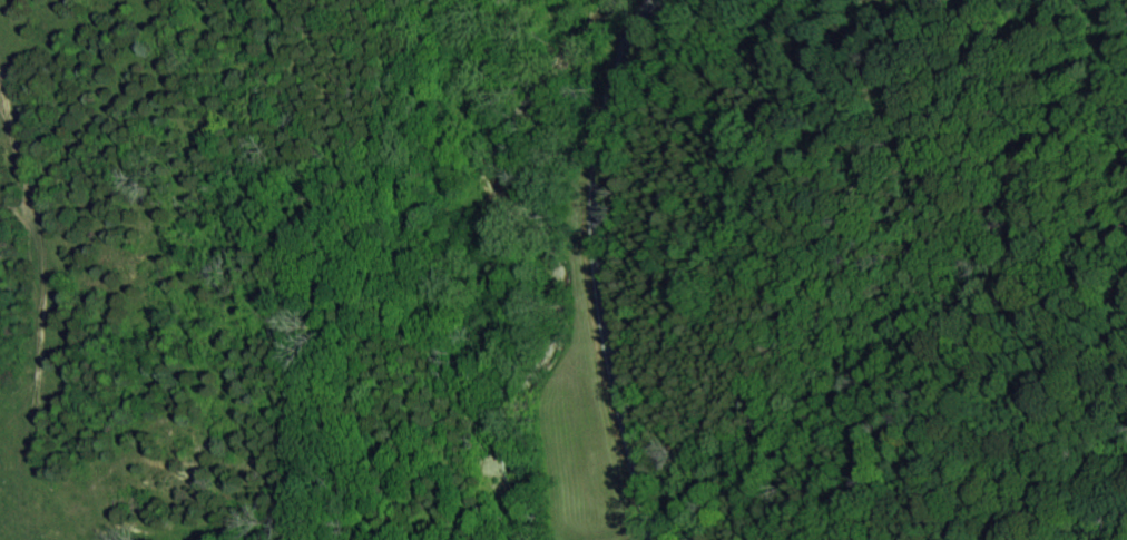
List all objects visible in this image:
road: (587, 264)

